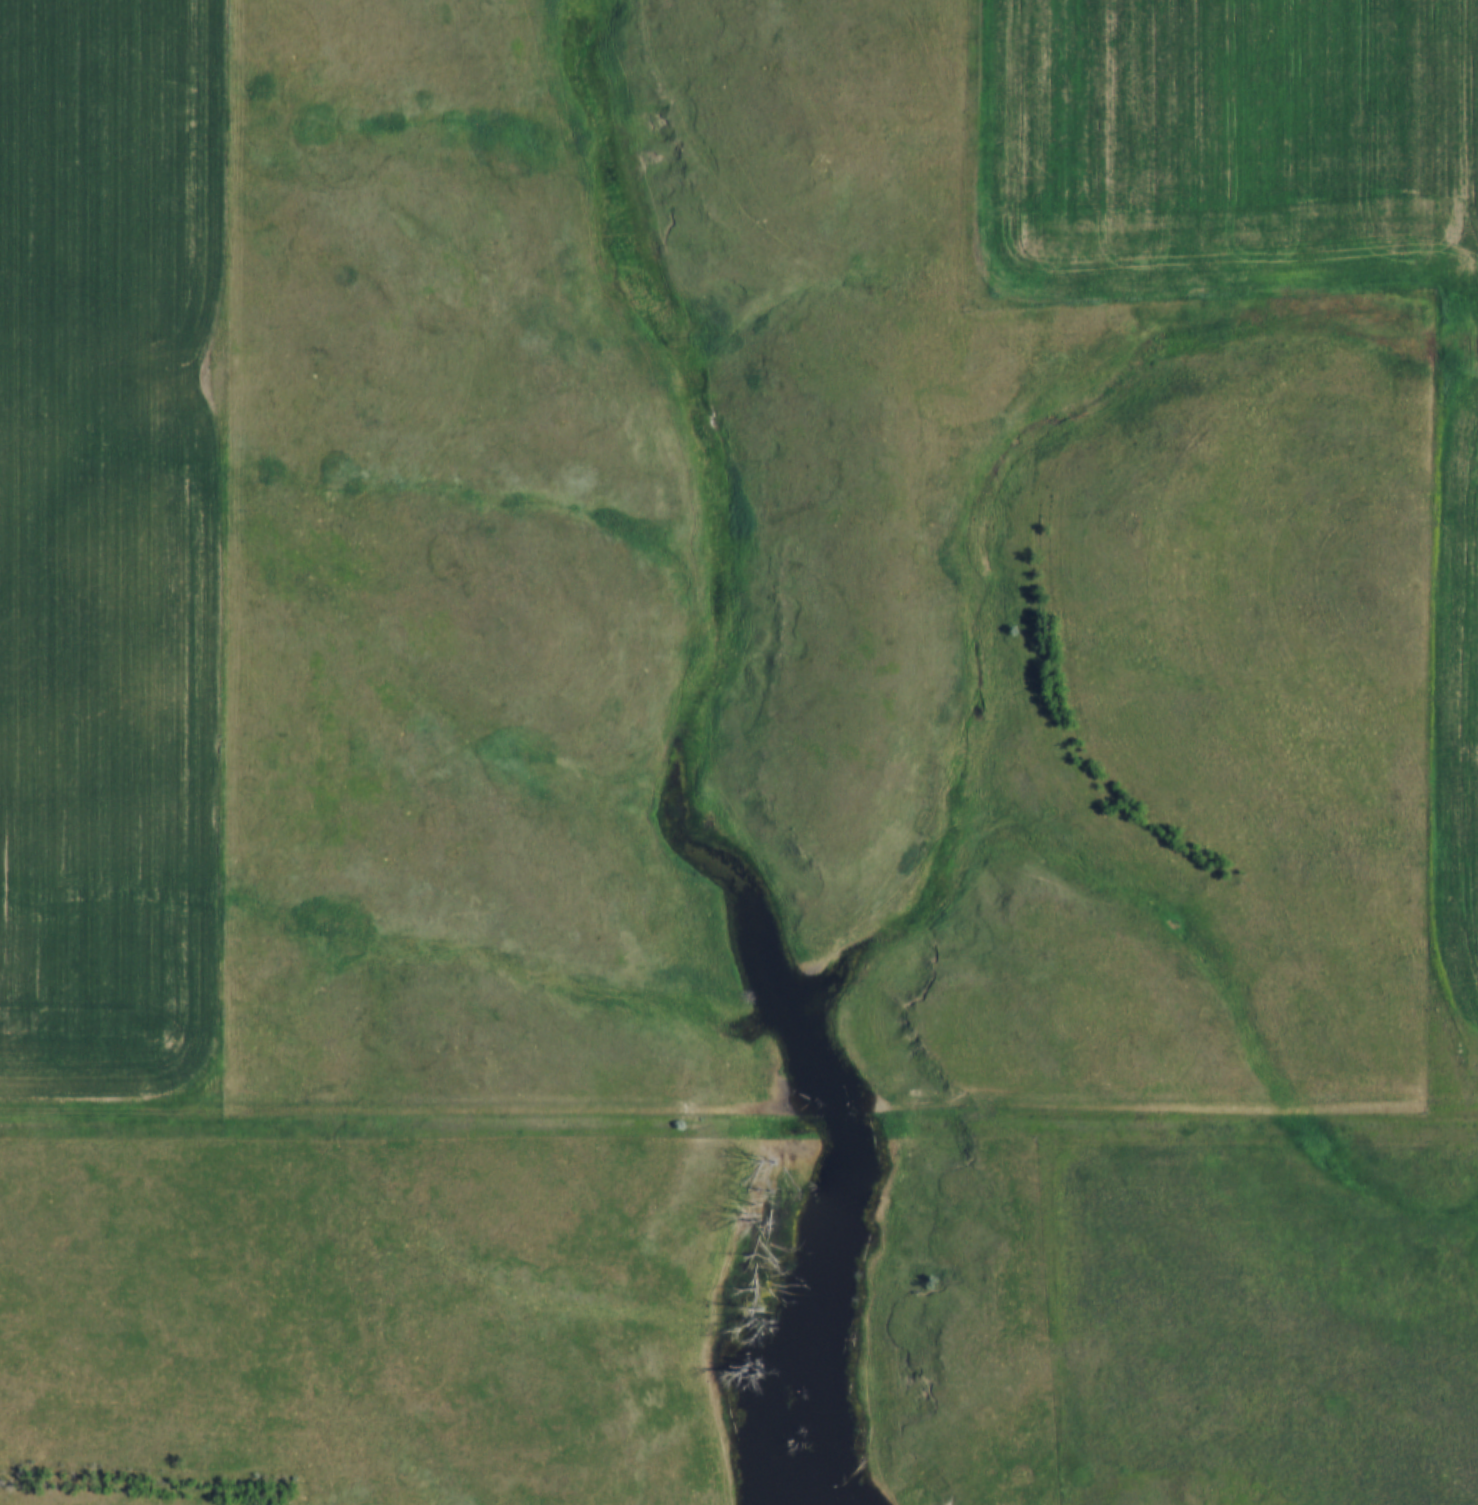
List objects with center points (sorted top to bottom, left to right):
road: (739, 1110)

